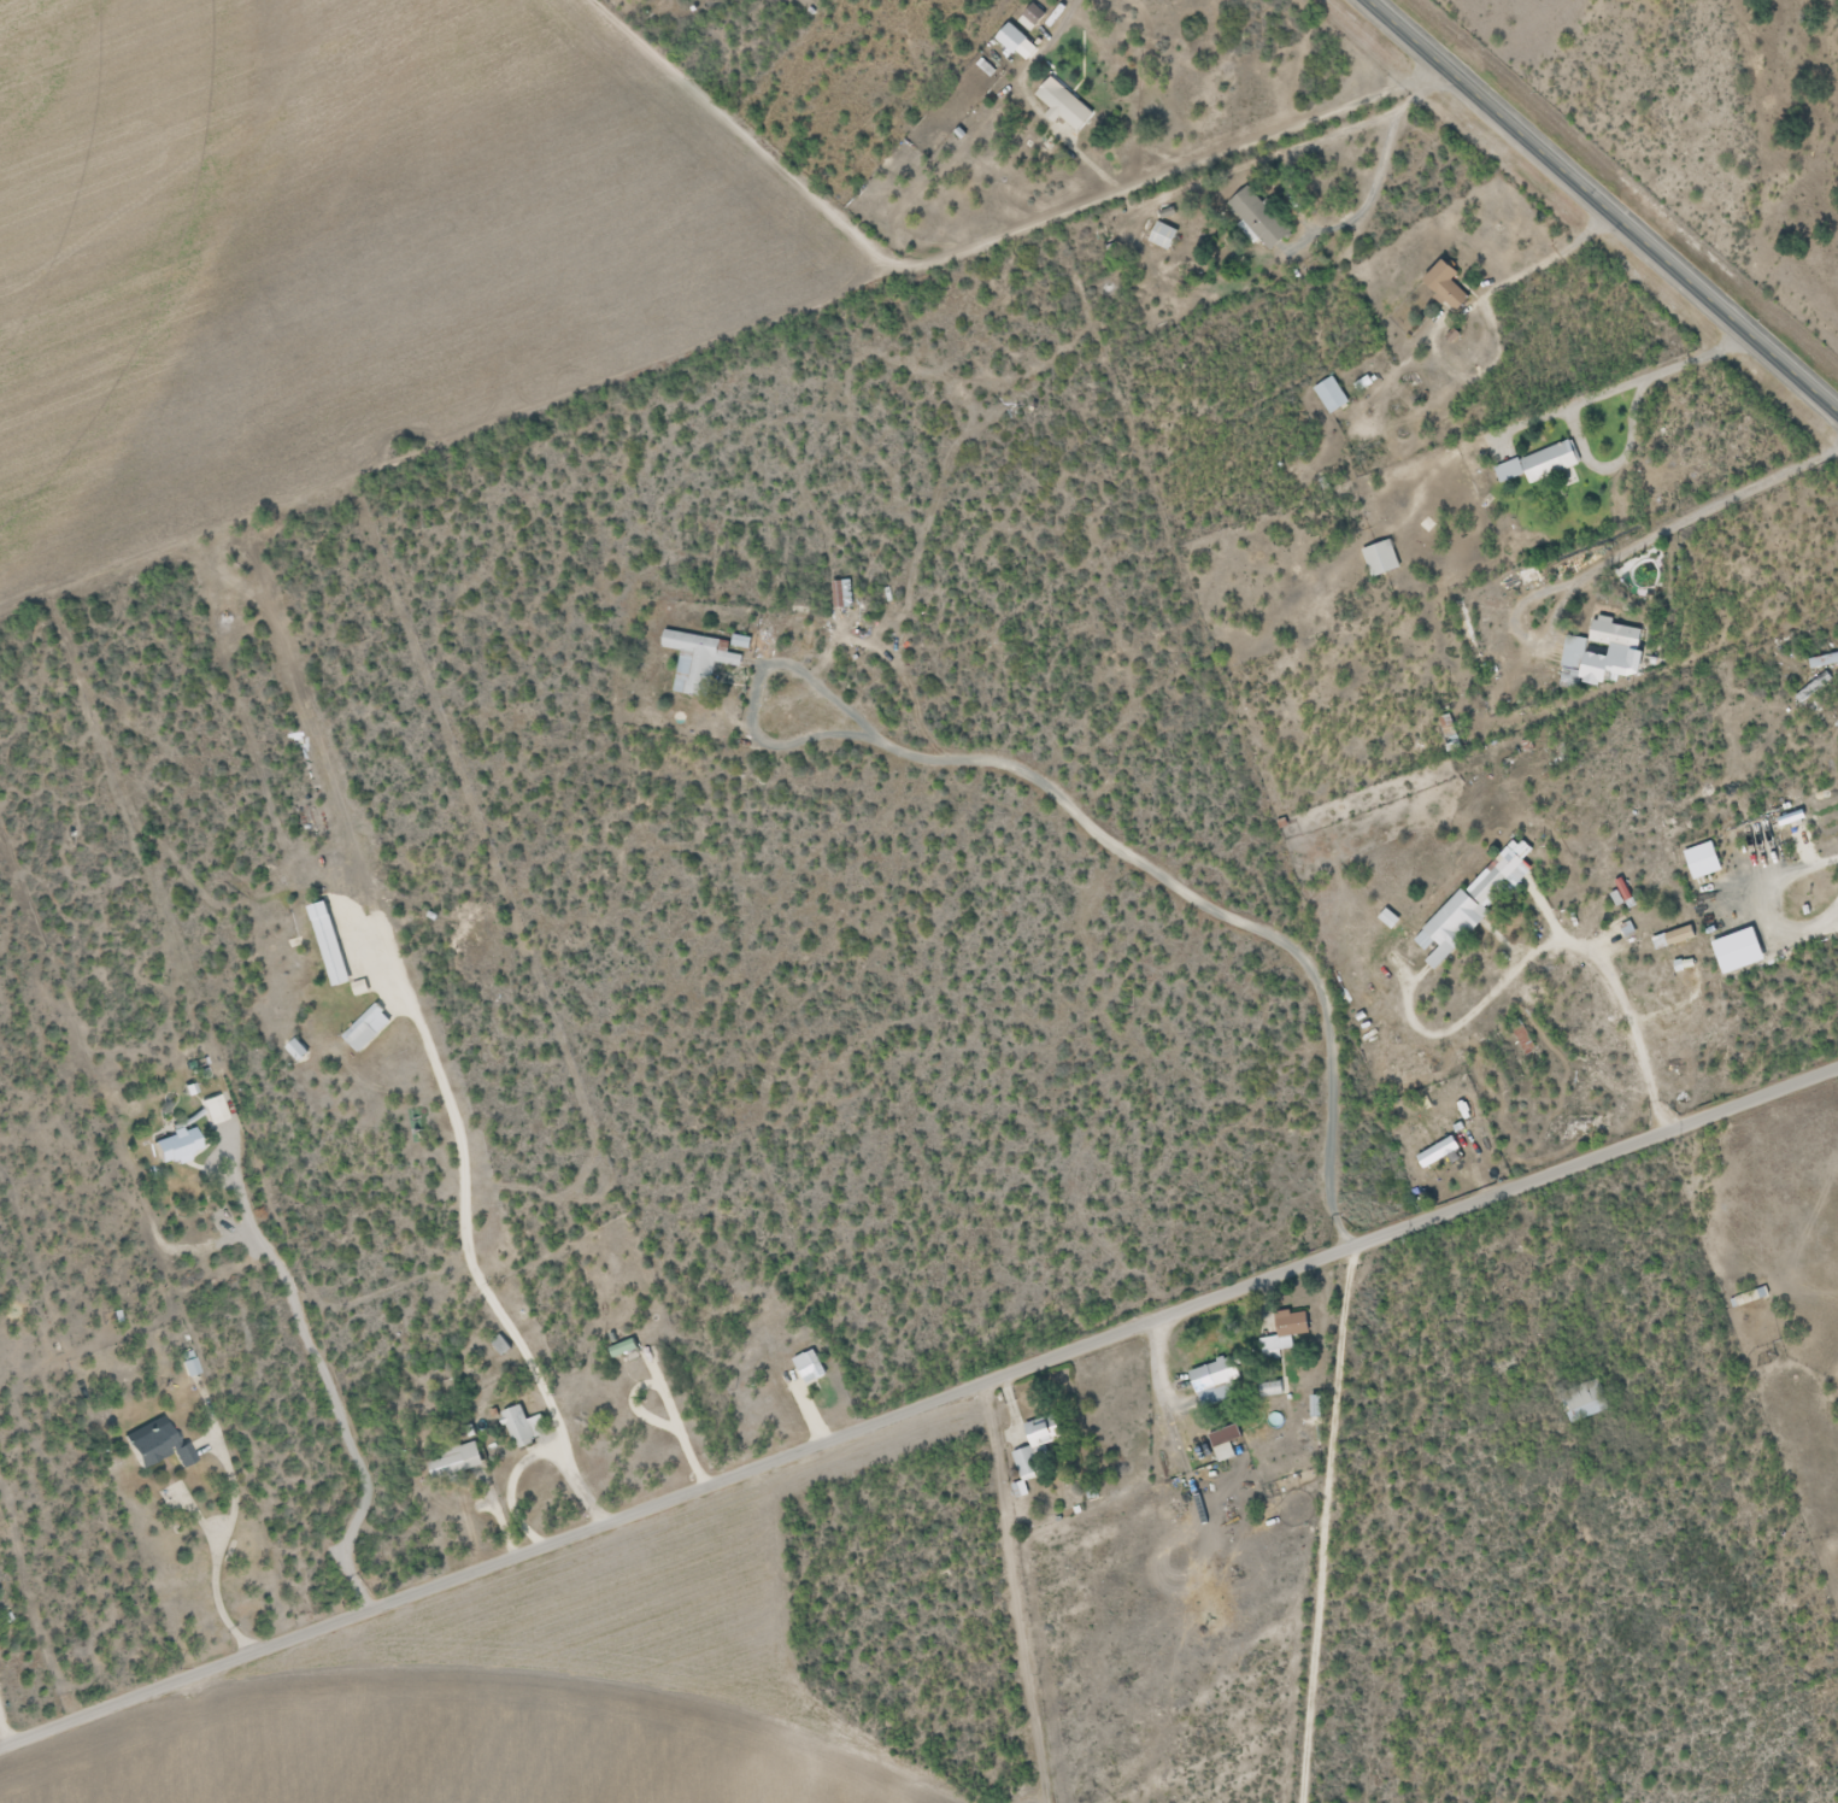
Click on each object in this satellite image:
building: (1006, 37)
building: (1059, 105)
railway: (1656, 160)
road: (1607, 202)
building: (1256, 217)
building: (1159, 235)
building: (1440, 286)
building: (1327, 395)
building: (1537, 464)
building: (1376, 559)
building: (839, 594)
building: (1597, 654)
building: (694, 660)
building: (1617, 889)
building: (1466, 904)
building: (1672, 959)
building: (212, 1110)
building: (174, 1146)
building: (1437, 1153)
building: (1746, 1298)
building: (1281, 1333)
building: (618, 1349)
building: (184, 1364)
building: (798, 1372)
building: (1211, 1382)
building: (1580, 1400)
road: (918, 1406)
building: (521, 1426)
building: (1221, 1444)
building: (153, 1446)
building: (1033, 1452)
building: (453, 1461)
road: (1387, 1522)

